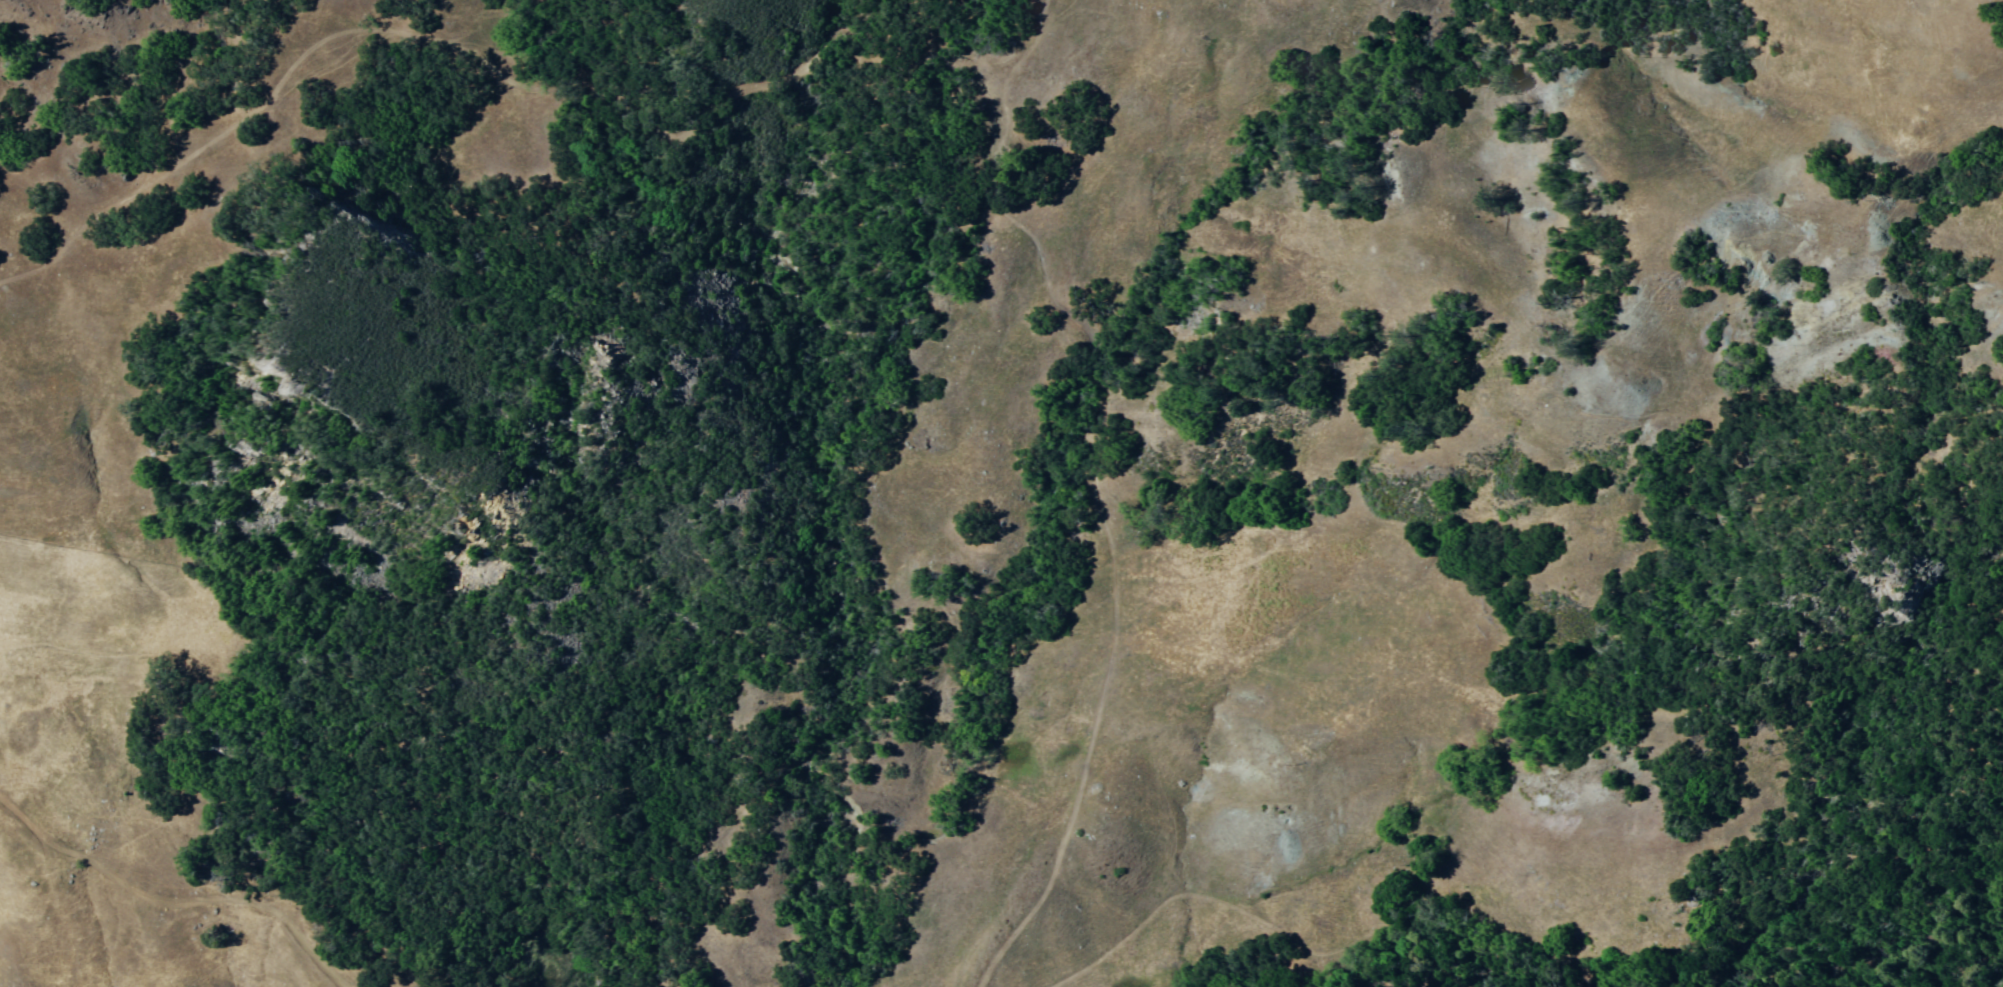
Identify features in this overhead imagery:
road: (175, 903)

